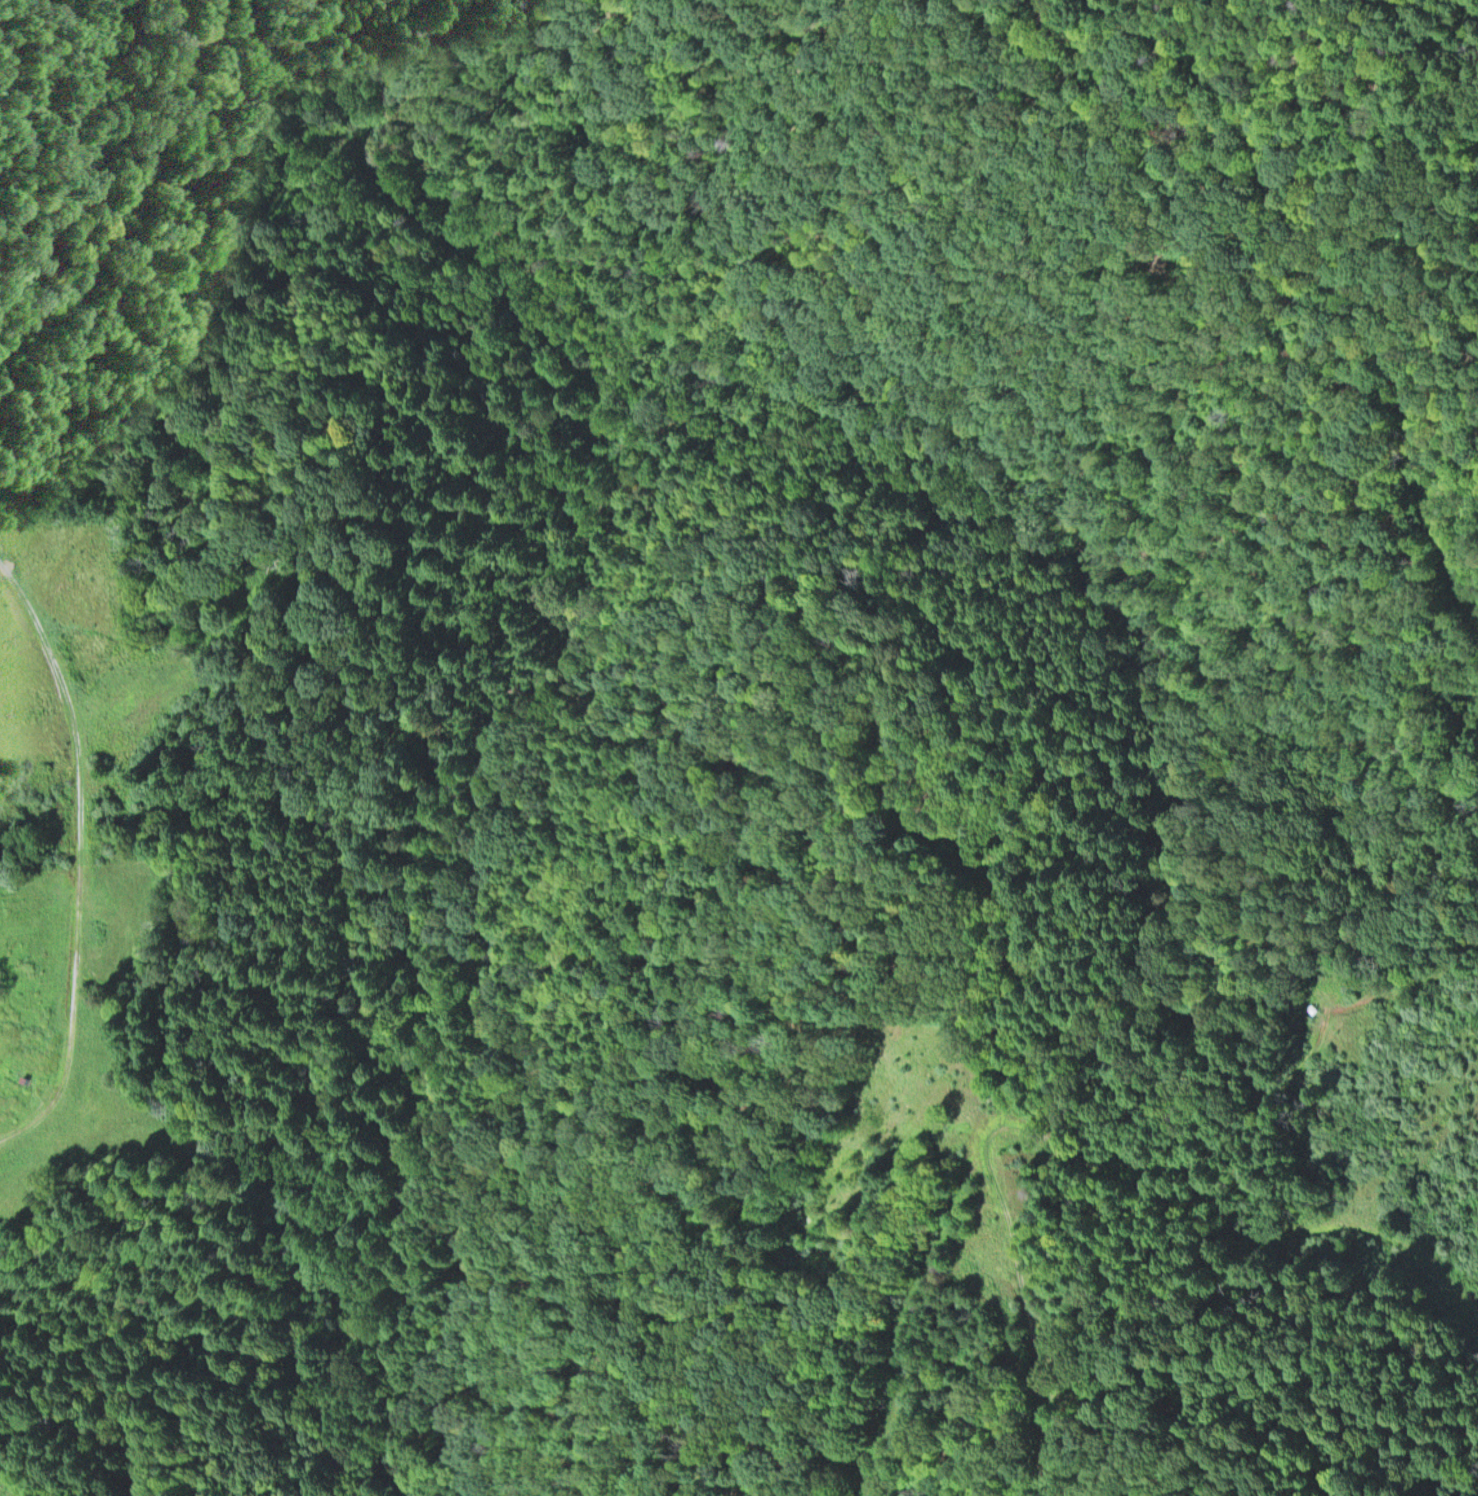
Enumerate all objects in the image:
road: (1172, 45)
road: (1453, 45)
road: (1391, 349)
road: (1451, 431)
road: (80, 854)
building: (1313, 1007)
road: (1088, 1141)
road: (1324, 1231)
road: (899, 1306)

